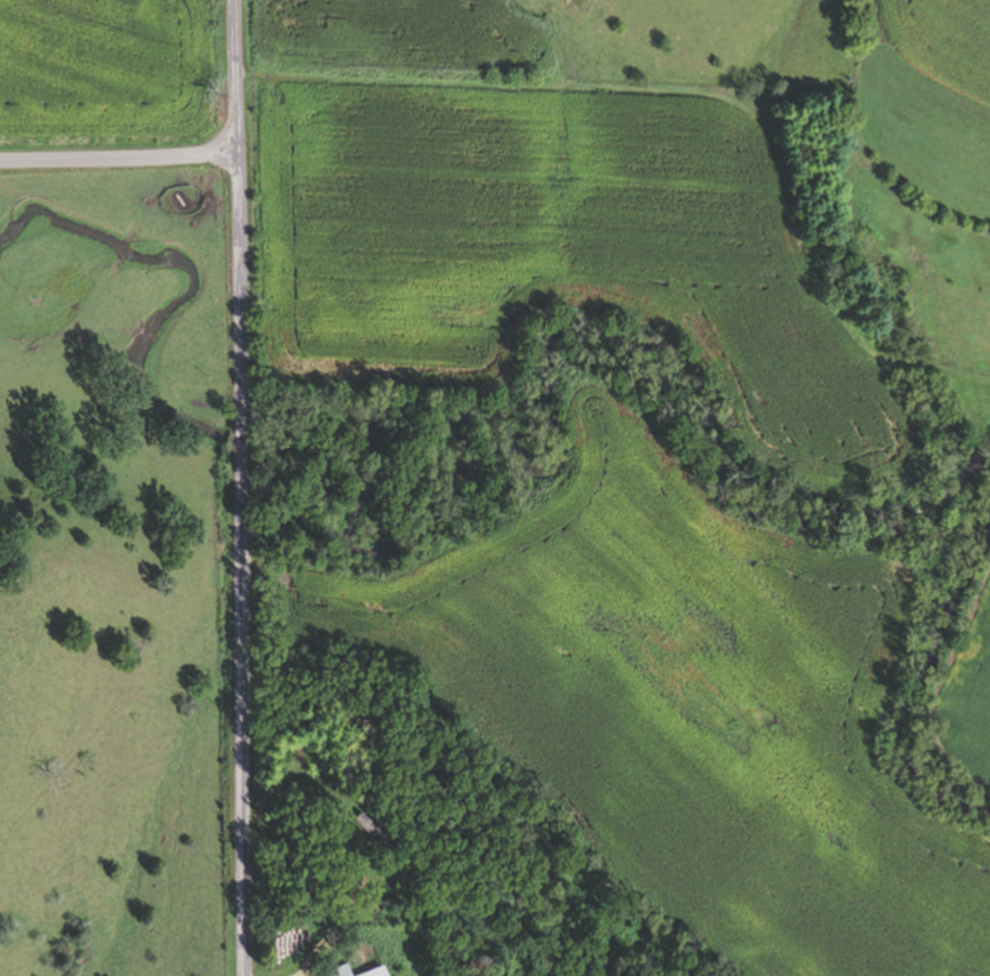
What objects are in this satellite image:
road: (235, 77)
road: (697, 97)
road: (118, 159)
road: (242, 565)
building: (376, 832)
road: (336, 927)
building: (341, 971)
building: (377, 972)

